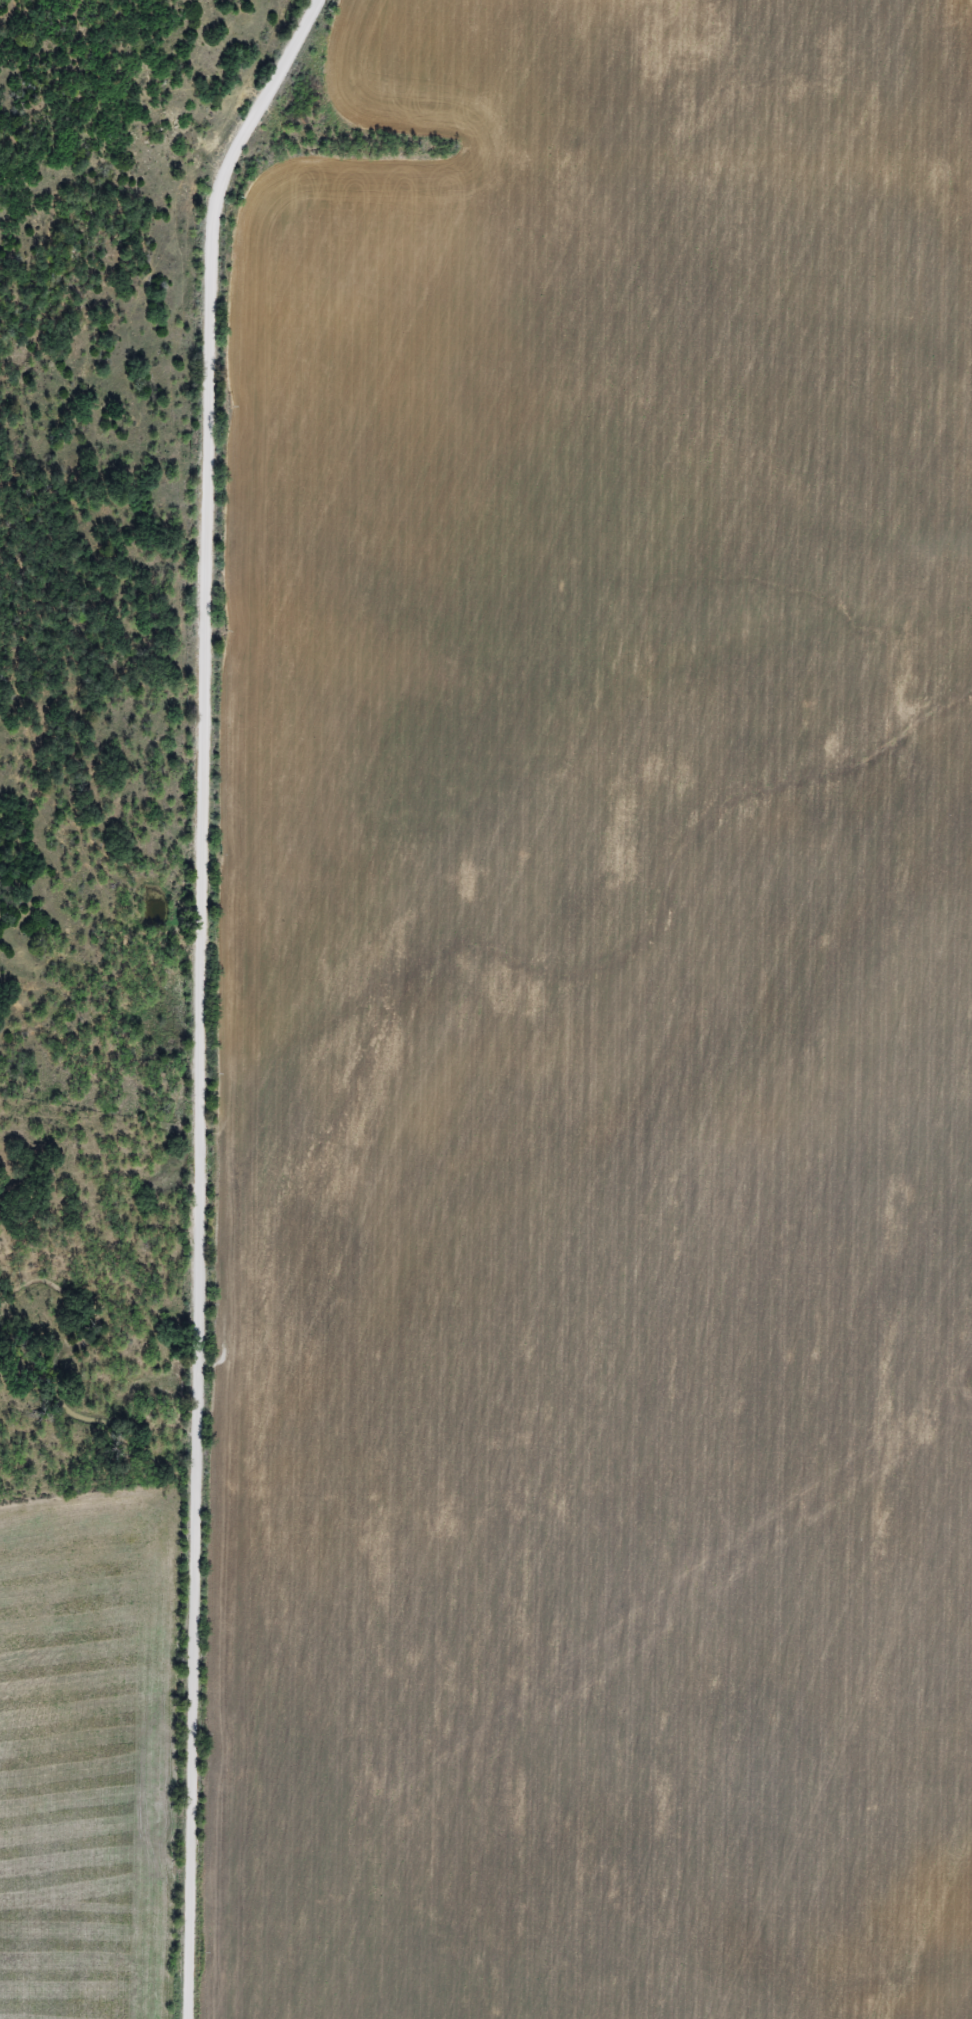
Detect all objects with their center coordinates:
road: (202, 998)

